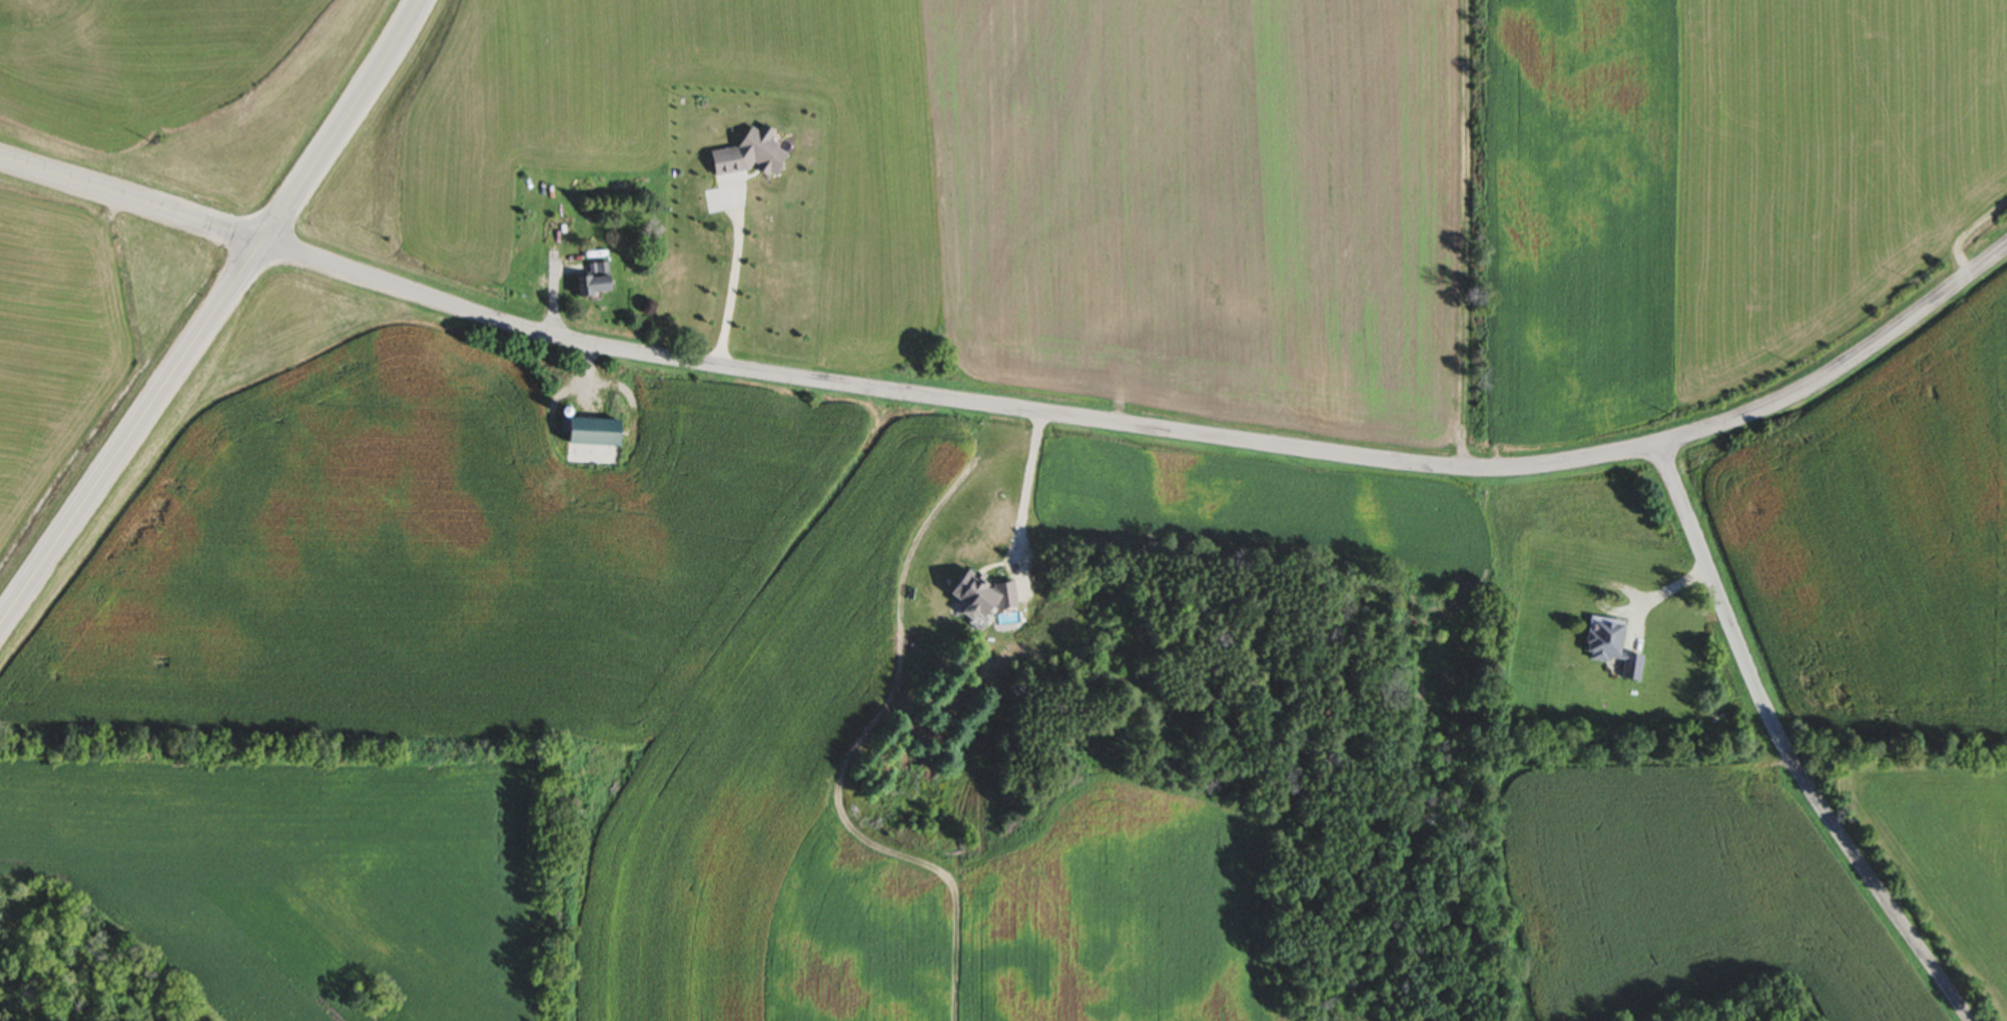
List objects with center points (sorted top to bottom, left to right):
building: (756, 155)
road: (132, 201)
road: (738, 285)
building: (603, 286)
road: (392, 287)
building: (1098, 310)
road: (214, 316)
building: (601, 430)
road: (1288, 449)
road: (1030, 471)
road: (1660, 595)
building: (1609, 646)
road: (1785, 748)

